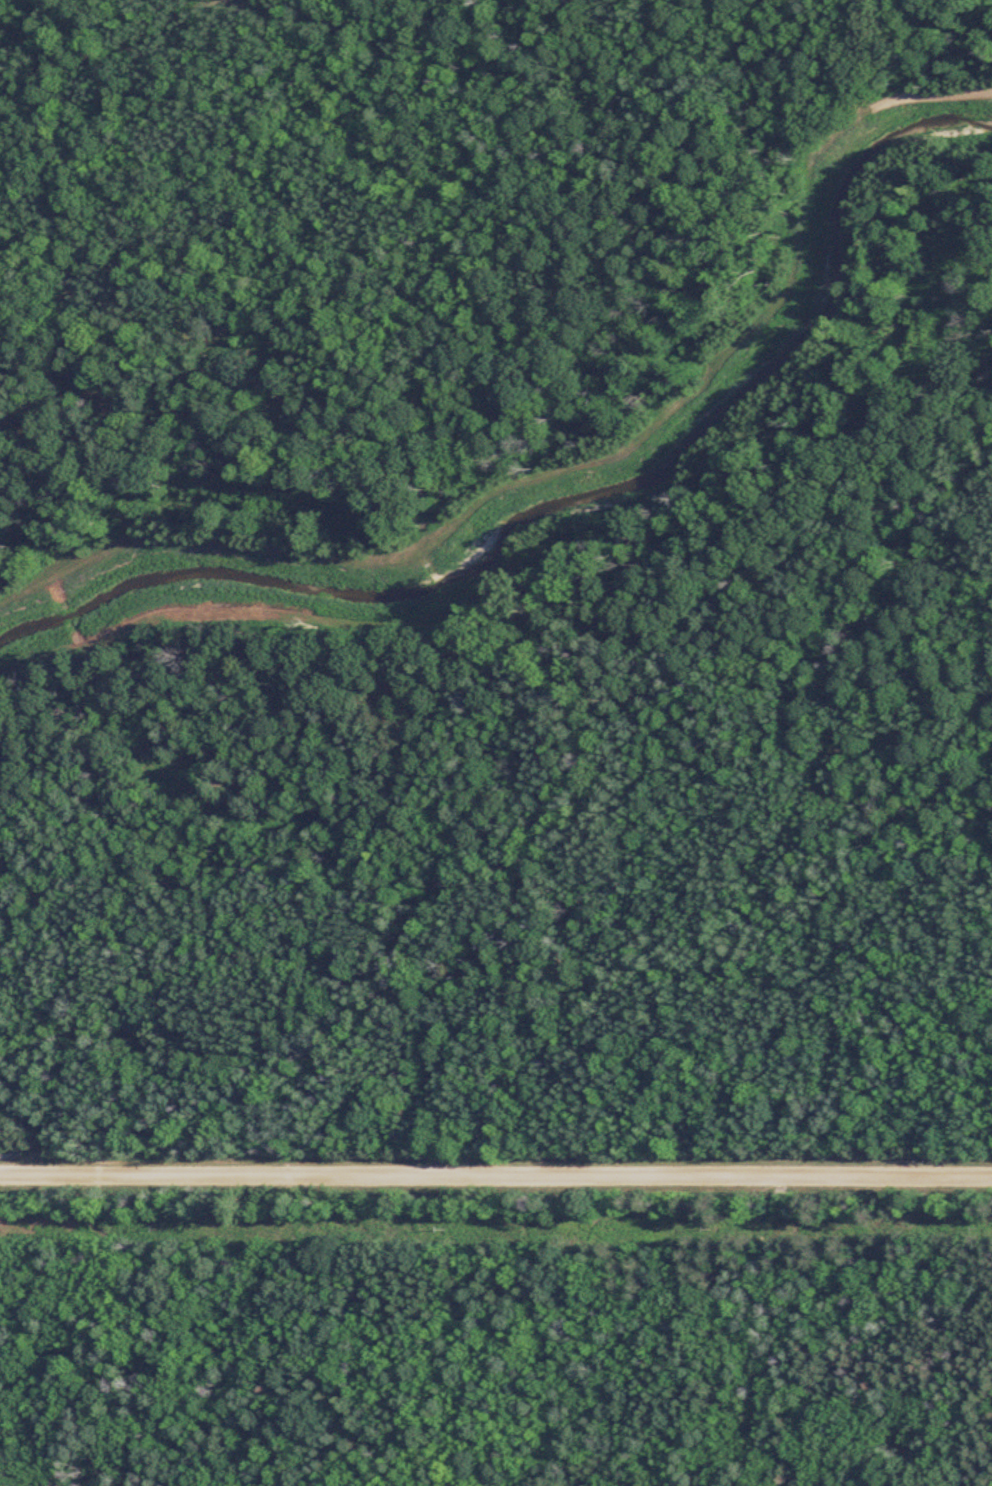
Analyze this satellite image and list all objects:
road: (496, 1178)

